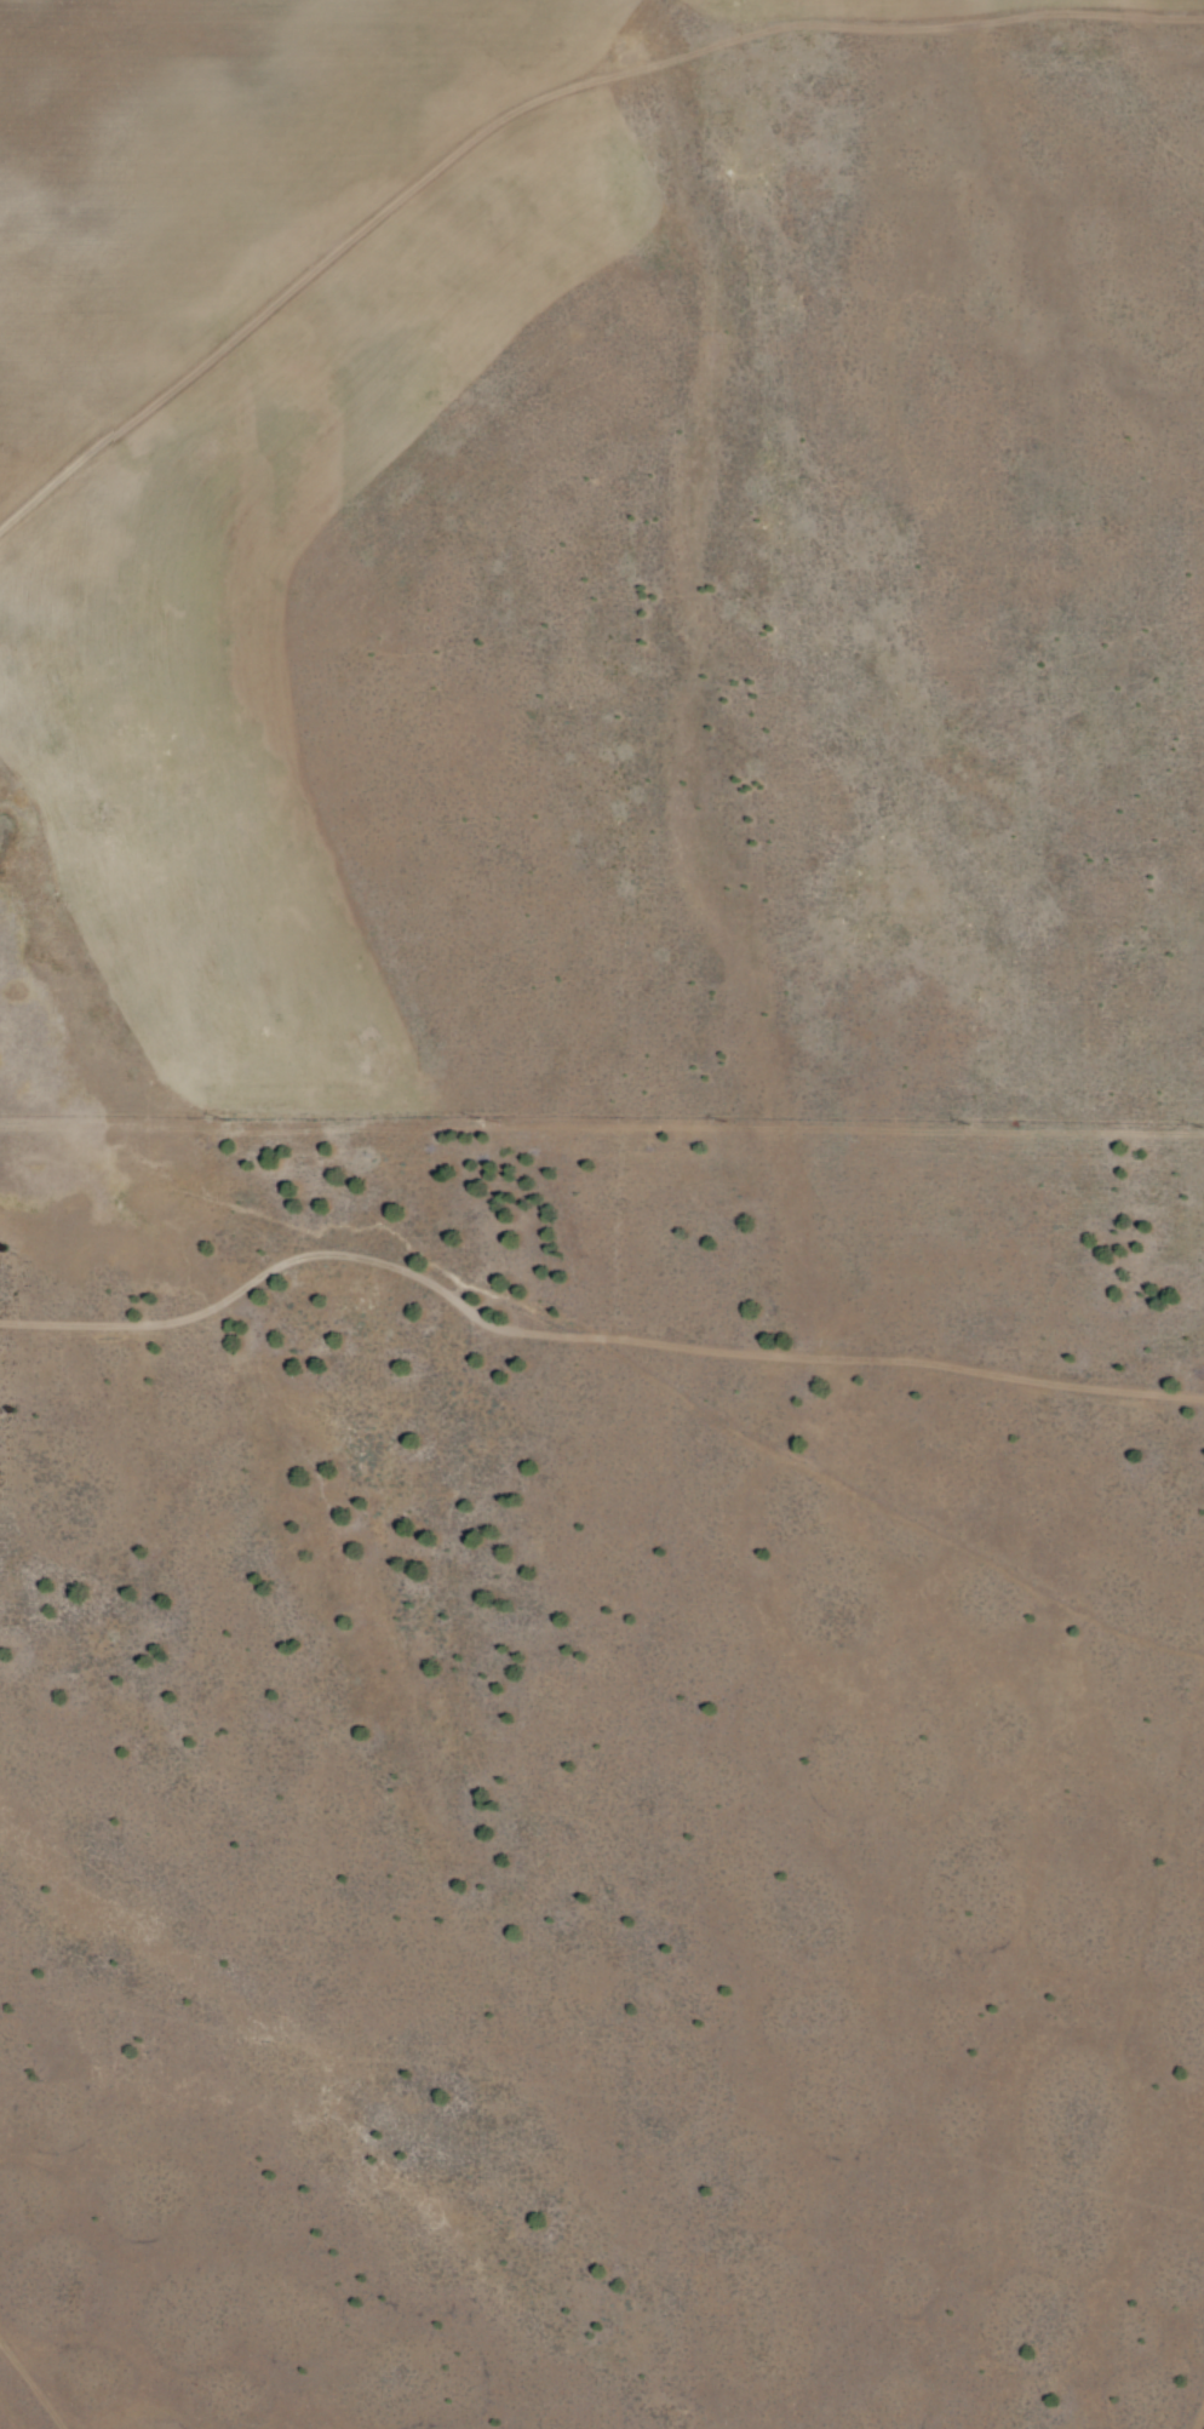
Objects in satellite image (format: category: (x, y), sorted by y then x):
crop: (277, 161)
road: (304, 271)
crop: (321, 583)
road: (1200, 2421)

